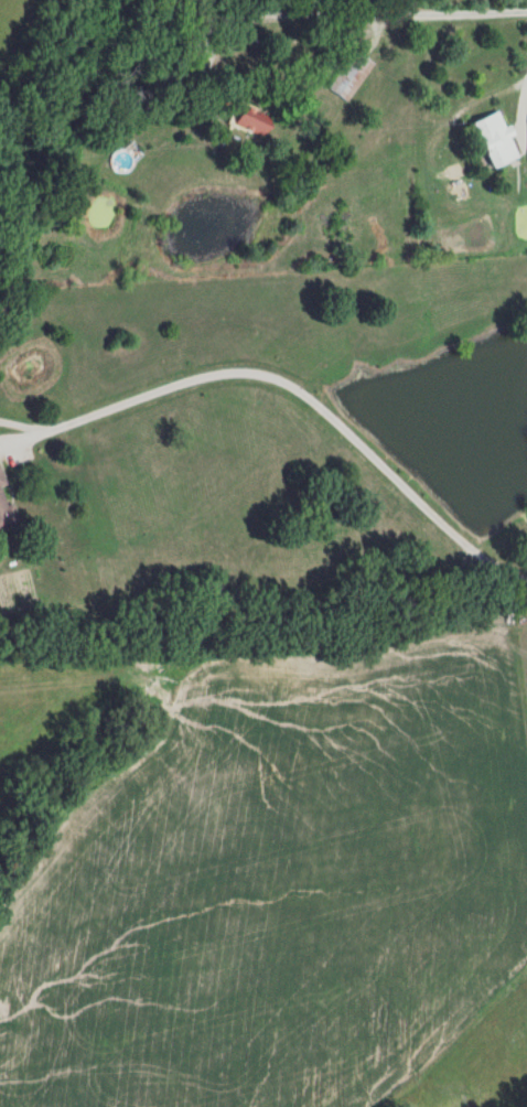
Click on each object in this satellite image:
road: (442, 17)
building: (348, 75)
building: (254, 123)
building: (497, 140)
building: (7, 508)

